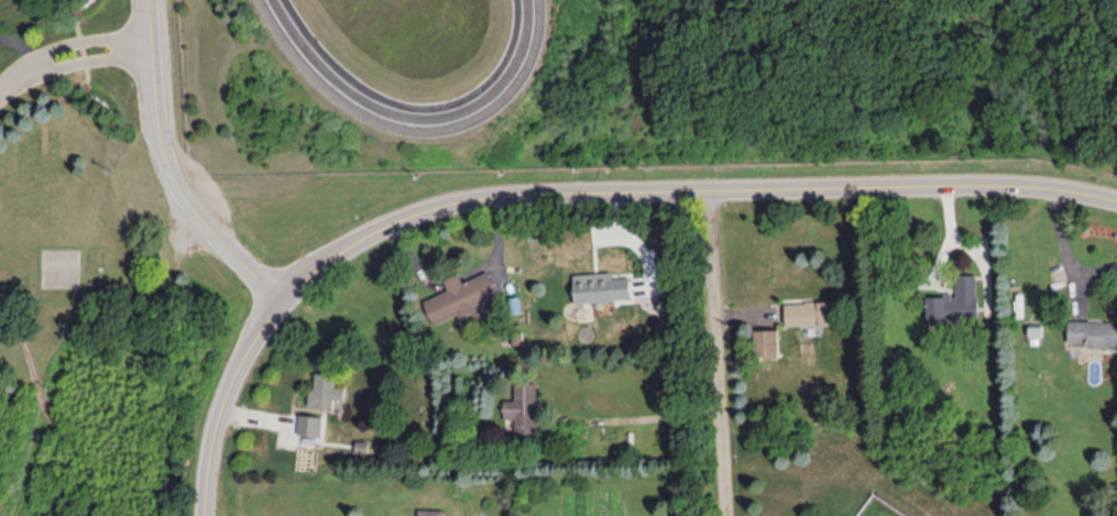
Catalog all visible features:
road: (89, 30)
road: (22, 42)
road: (95, 51)
road: (19, 74)
raceway: (416, 121)
road: (171, 169)
road: (685, 187)
road: (495, 244)
road: (1066, 249)
road: (414, 260)
road: (451, 279)
building: (600, 286)
building: (459, 297)
building: (954, 300)
building: (809, 311)
building: (1094, 332)
building: (765, 341)
road: (715, 351)
building: (324, 391)
road: (222, 399)
building: (522, 407)
road: (651, 416)
building: (308, 424)
building: (428, 512)

